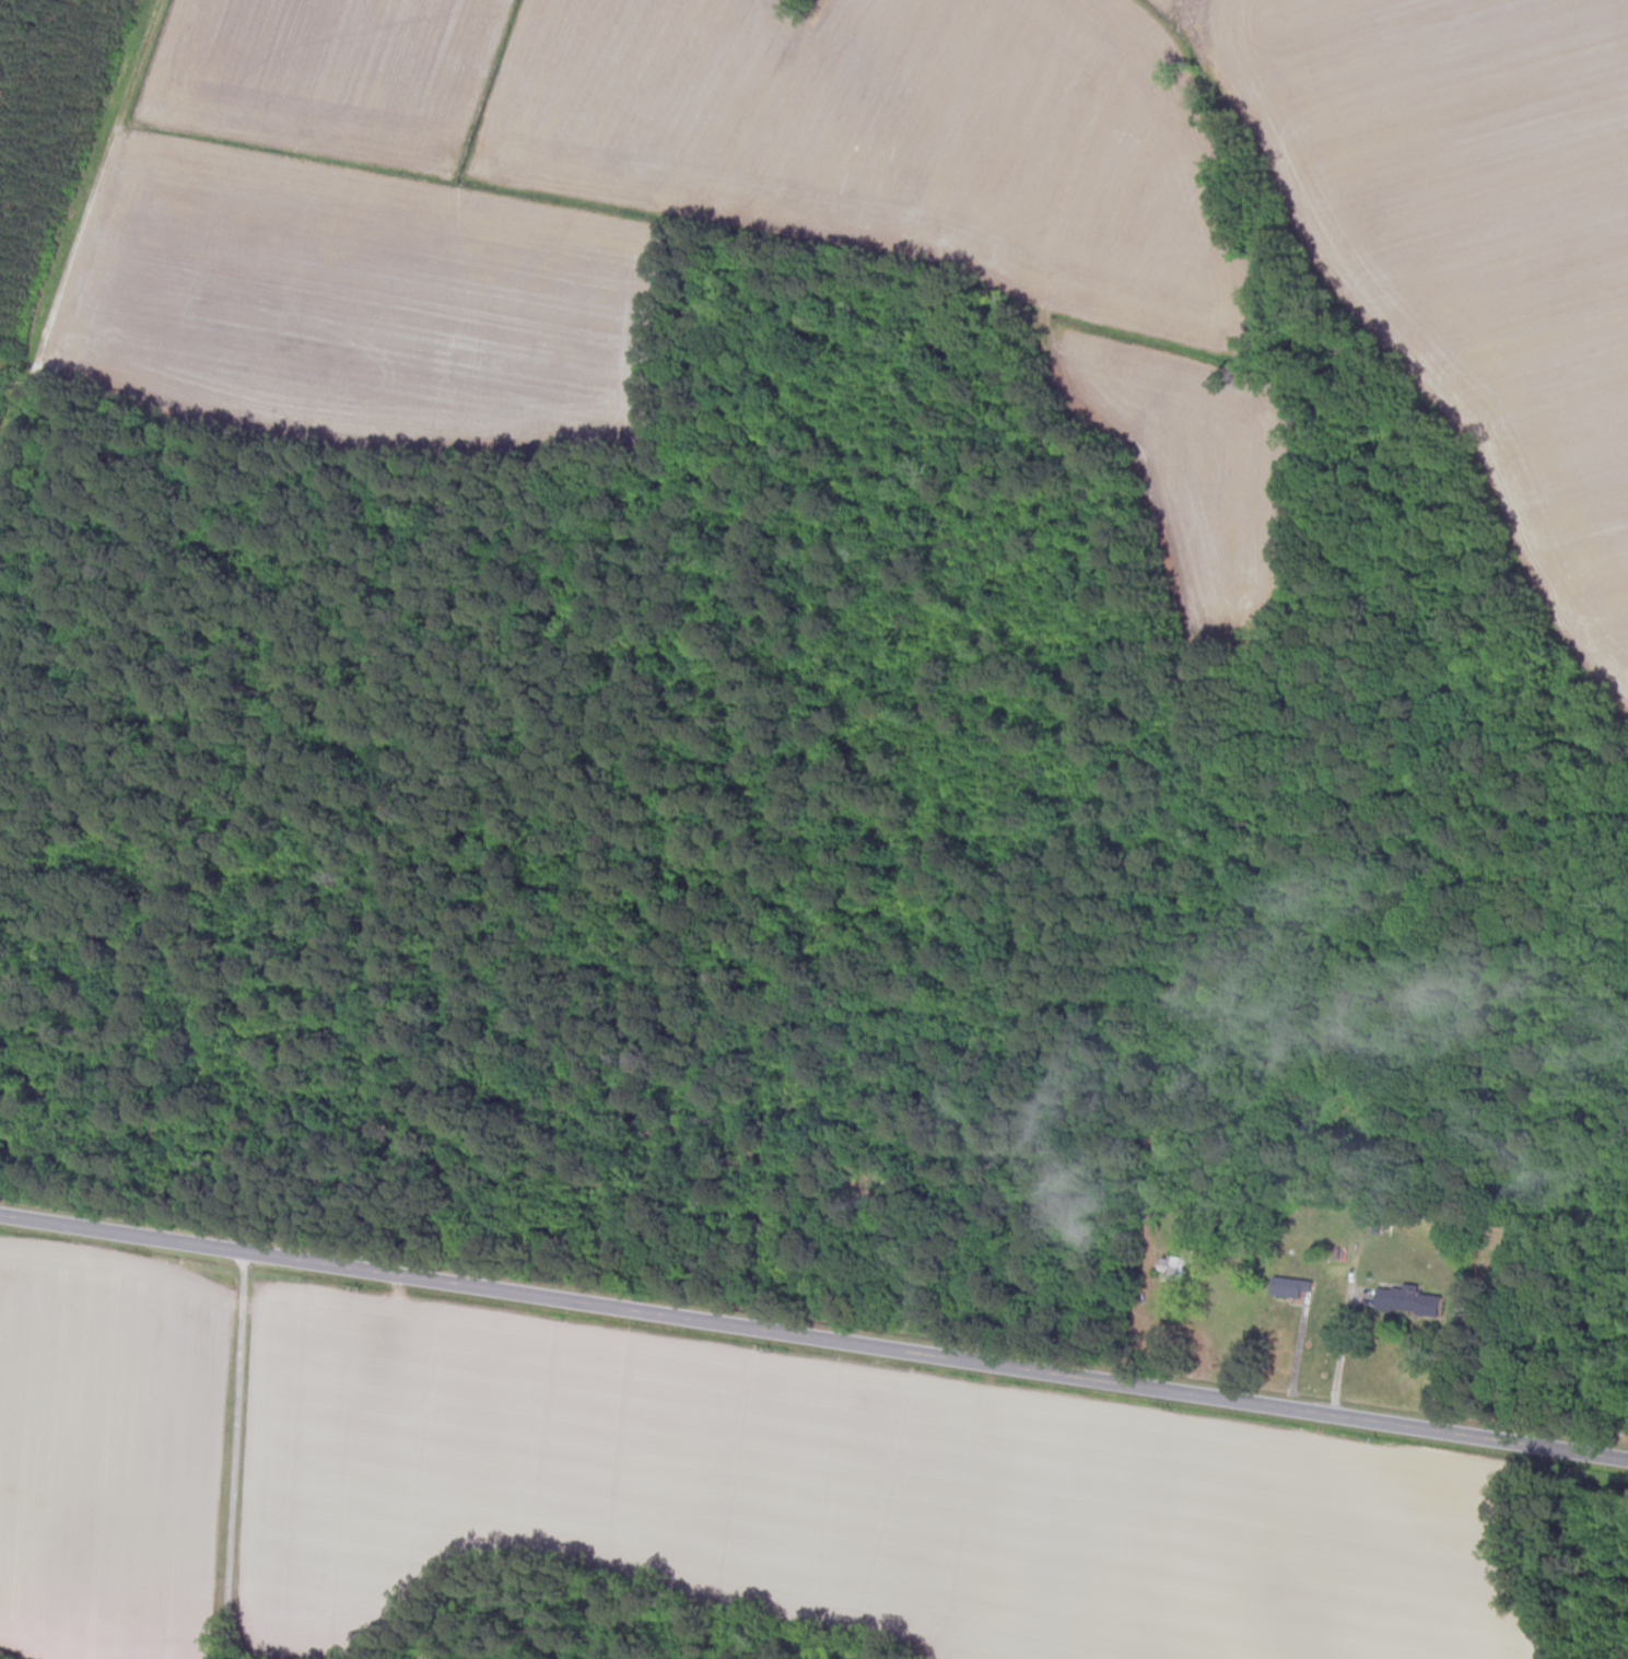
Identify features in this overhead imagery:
building: (1170, 1269)
building: (1287, 1288)
building: (1406, 1301)
road: (813, 1341)

